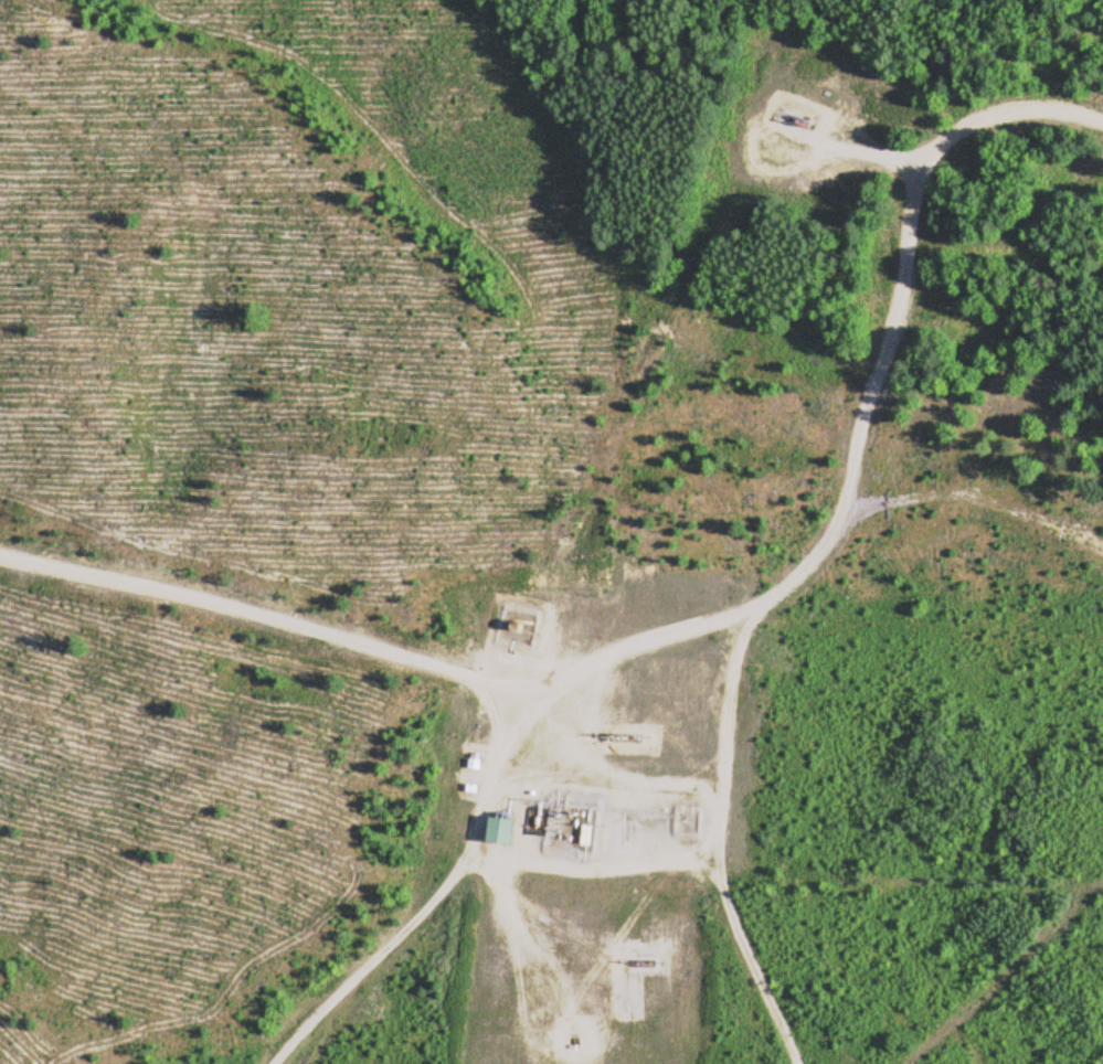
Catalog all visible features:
petroleum well: (794, 121)
road: (862, 417)
road: (261, 605)
petroleum well: (613, 734)
building: (496, 829)
road: (720, 842)
road: (434, 892)

